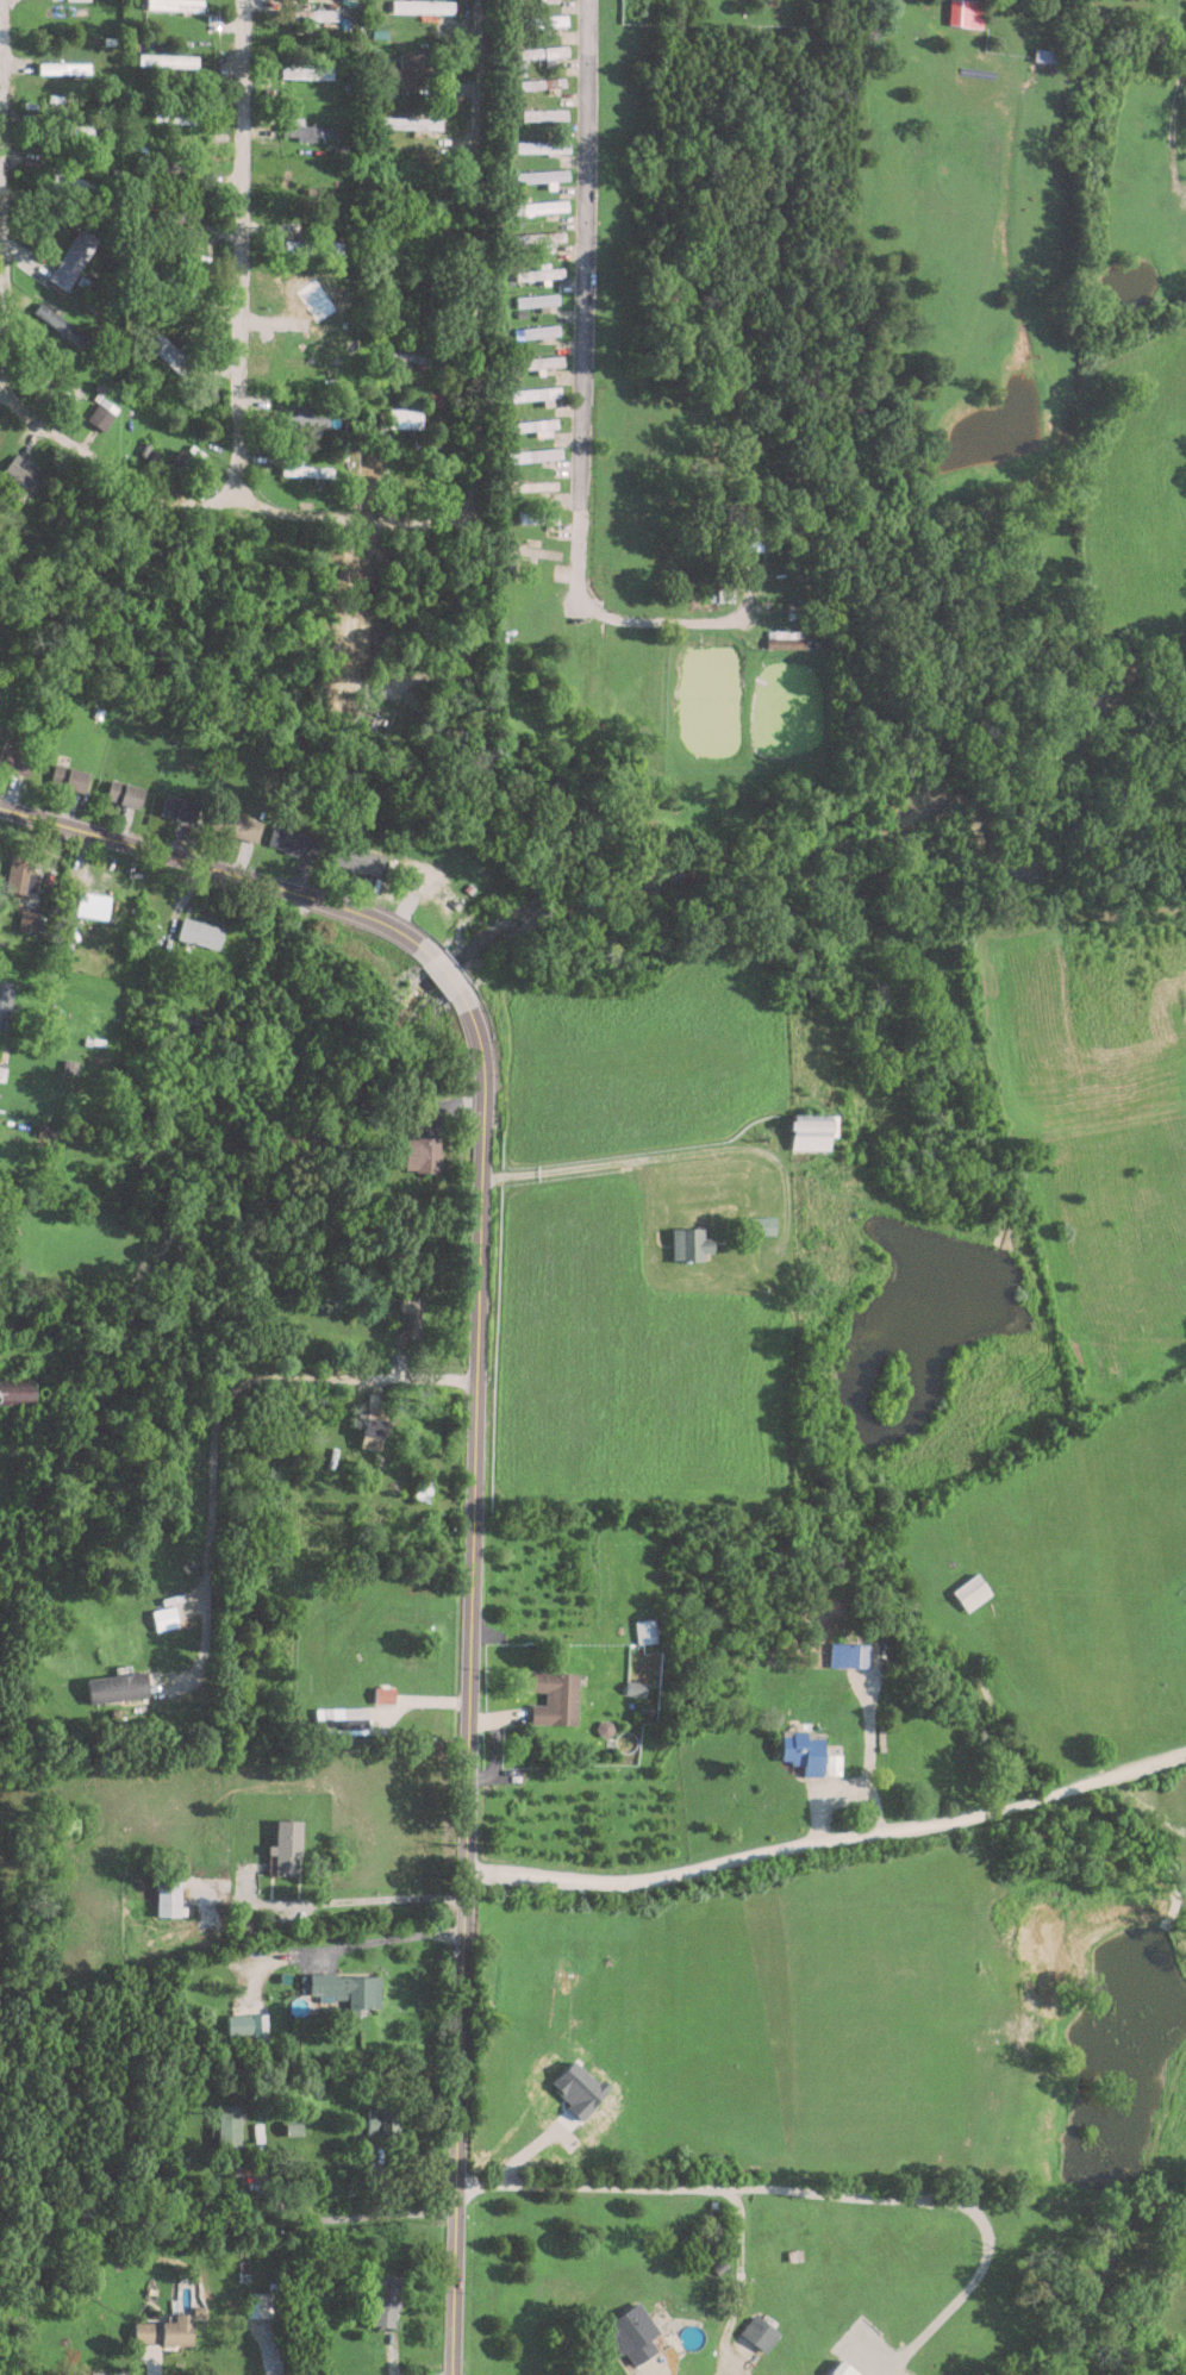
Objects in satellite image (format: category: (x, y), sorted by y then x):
building: (174, 4)
building: (311, 12)
building: (966, 13)
building: (543, 19)
building: (539, 50)
building: (167, 58)
building: (64, 67)
building: (407, 67)
building: (307, 71)
building: (539, 81)
building: (543, 113)
building: (175, 117)
road: (1172, 120)
building: (411, 121)
building: (68, 129)
building: (541, 145)
building: (169, 168)
building: (541, 174)
building: (74, 183)
road: (1, 196)
building: (539, 206)
building: (188, 230)
building: (535, 236)
building: (313, 244)
road: (236, 255)
building: (73, 256)
road: (474, 261)
building: (538, 270)
building: (170, 281)
building: (322, 294)
building: (536, 298)
building: (58, 320)
building: (536, 329)
building: (171, 351)
building: (411, 354)
building: (537, 361)
road: (583, 379)
building: (51, 386)
building: (536, 392)
building: (168, 394)
building: (101, 411)
building: (306, 415)
building: (405, 415)
building: (536, 424)
building: (535, 454)
building: (405, 465)
building: (176, 469)
building: (306, 469)
building: (23, 473)
building: (538, 485)
road: (219, 507)
building: (538, 517)
building: (744, 530)
building: (536, 550)
building: (725, 594)
building: (14, 758)
building: (68, 775)
building: (124, 792)
building: (179, 806)
building: (235, 823)
building: (292, 839)
building: (356, 857)
building: (19, 873)
building: (27, 919)
building: (199, 931)
building: (5, 1002)
building: (45, 1129)
building: (812, 1130)
building: (422, 1152)
road: (620, 1160)
building: (764, 1224)
building: (689, 1242)
building: (407, 1320)
building: (17, 1393)
road: (213, 1415)
road: (474, 1424)
building: (372, 1431)
building: (420, 1492)
building: (970, 1590)
building: (643, 1630)
building: (116, 1686)
building: (554, 1696)
building: (339, 1719)
road: (870, 1738)
building: (803, 1749)
road: (839, 1787)
road: (826, 1839)
building: (286, 1846)
building: (168, 1894)
road: (341, 1904)
road: (391, 1938)
building: (347, 1988)
building: (382, 2121)
building: (230, 2126)
road: (698, 2187)
road: (338, 2217)
road: (970, 2280)
road: (742, 2285)
building: (386, 2300)
building: (167, 2330)
building: (761, 2331)
building: (633, 2333)
building: (843, 2369)
road: (889, 2373)

